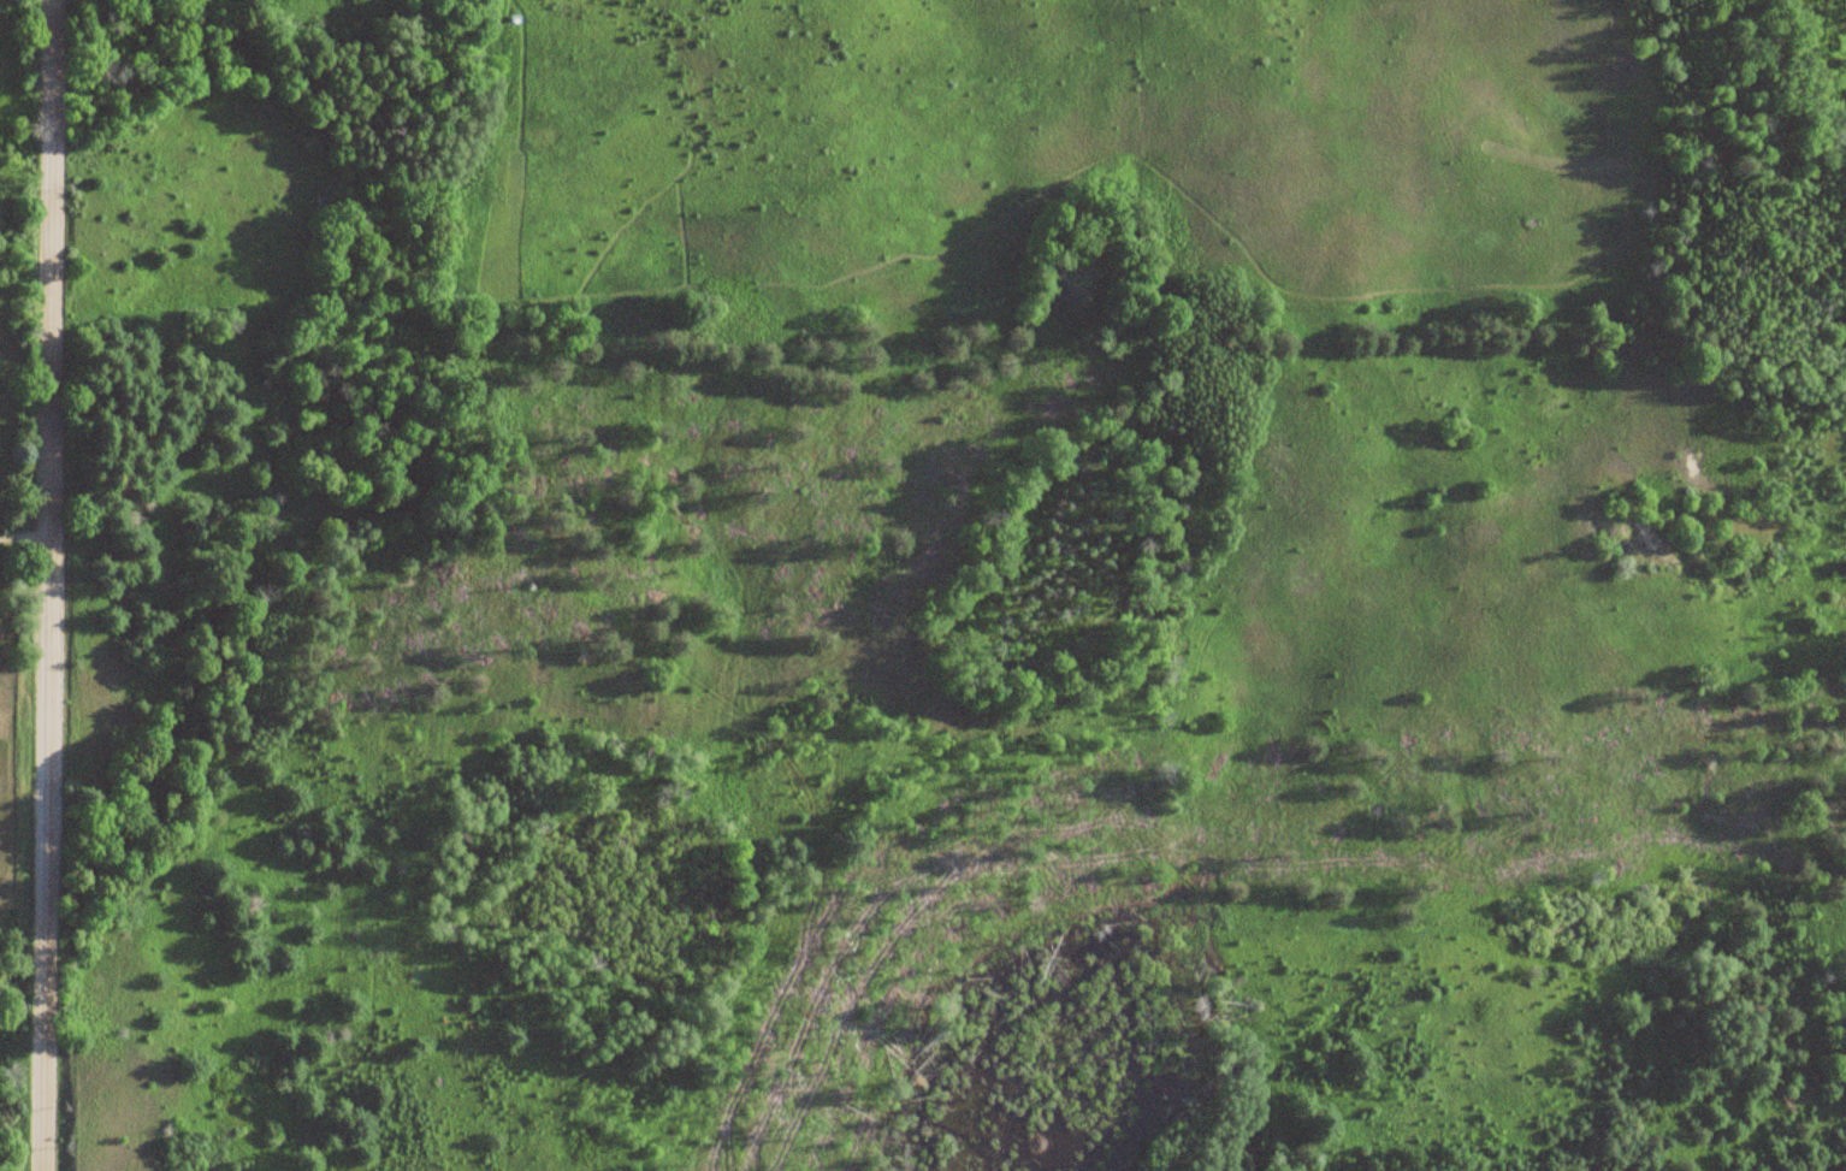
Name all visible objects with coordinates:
road: (42, 585)

